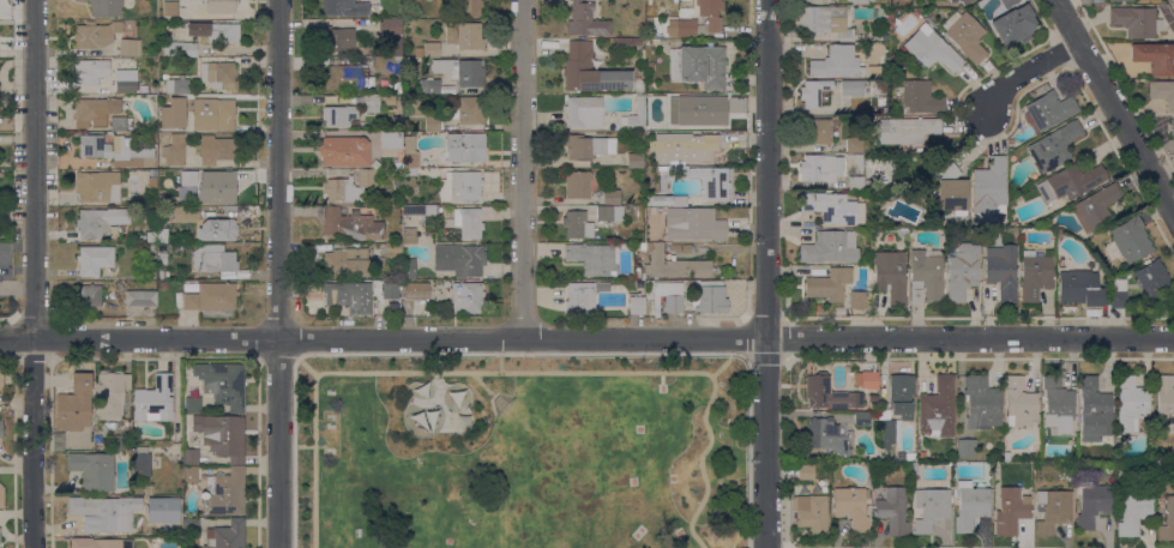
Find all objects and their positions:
building: (1120, 0)
building: (952, 1)
building: (964, 1)
building: (862, 2)
building: (1007, 2)
park: (1170, 5)
building: (219, 6)
building: (106, 7)
building: (469, 7)
building: (169, 8)
building: (343, 8)
building: (710, 13)
building: (585, 20)
road: (1068, 20)
building: (825, 22)
building: (1136, 22)
building: (945, 23)
building: (1013, 25)
building: (662, 28)
building: (686, 28)
building: (215, 31)
building: (392, 31)
building: (465, 36)
building: (967, 36)
building: (107, 37)
building: (337, 40)
building: (622, 42)
building: (637, 42)
building: (180, 49)
building: (931, 49)
building: (432, 50)
building: (396, 52)
building: (1154, 58)
building: (405, 61)
building: (835, 62)
building: (387, 66)
building: (649, 66)
building: (698, 66)
building: (462, 71)
building: (590, 71)
building: (89, 72)
building: (218, 74)
road: (1027, 74)
building: (343, 78)
building: (126, 83)
building: (177, 85)
building: (429, 86)
building: (397, 88)
building: (854, 88)
building: (879, 88)
building: (143, 89)
building: (813, 92)
building: (1162, 92)
building: (917, 97)
building: (389, 100)
building: (371, 103)
building: (468, 110)
building: (582, 110)
building: (95, 112)
building: (1047, 112)
building: (698, 113)
building: (637, 114)
building: (213, 115)
building: (338, 115)
building: (396, 119)
building: (119, 124)
building: (432, 124)
road: (1127, 127)
building: (1172, 127)
building: (813, 131)
building: (904, 131)
building: (389, 140)
building: (1011, 141)
building: (650, 144)
building: (854, 145)
building: (586, 146)
building: (1054, 146)
building: (463, 147)
building: (686, 149)
building: (175, 150)
building: (216, 150)
building: (115, 151)
building: (343, 151)
building: (408, 156)
building: (634, 161)
building: (857, 162)
road: (522, 168)
building: (820, 170)
building: (409, 173)
building: (710, 182)
building: (855, 182)
building: (1070, 182)
building: (188, 183)
building: (867, 185)
building: (98, 186)
building: (350, 186)
building: (460, 186)
building: (577, 186)
building: (989, 187)
building: (951, 191)
building: (215, 193)
building: (612, 197)
building: (666, 200)
building: (832, 207)
building: (1096, 207)
building: (420, 210)
building: (185, 213)
building: (609, 213)
building: (884, 221)
building: (98, 222)
building: (468, 223)
building: (348, 224)
building: (693, 224)
building: (577, 225)
building: (217, 230)
building: (902, 234)
building: (150, 236)
building: (409, 236)
building: (142, 239)
building: (1128, 241)
building: (830, 247)
building: (392, 249)
building: (151, 252)
building: (162, 258)
building: (594, 258)
building: (459, 259)
building: (5, 260)
building: (94, 260)
building: (215, 261)
building: (344, 263)
building: (673, 264)
building: (408, 269)
building: (1001, 270)
building: (962, 271)
road: (32, 273)
road: (277, 273)
road: (765, 273)
building: (1035, 275)
building: (890, 276)
building: (926, 278)
building: (1154, 281)
building: (829, 284)
building: (1079, 288)
building: (416, 290)
building: (390, 291)
building: (90, 295)
building: (349, 296)
building: (468, 297)
building: (583, 297)
building: (667, 297)
building: (710, 297)
building: (140, 299)
building: (212, 300)
building: (857, 300)
building: (1114, 301)
building: (637, 305)
road: (586, 338)
road: (520, 354)
road: (500, 362)
road: (438, 363)
road: (306, 366)
road: (720, 366)
road: (519, 372)
road: (438, 375)
building: (1, 378)
building: (866, 380)
building: (222, 384)
road: (481, 385)
building: (110, 393)
building: (829, 393)
building: (1164, 397)
building: (153, 401)
building: (981, 403)
building: (1019, 403)
building: (192, 404)
building: (1058, 404)
building: (1130, 404)
building: (74, 405)
building: (896, 409)
building: (938, 409)
building: (1094, 410)
building: (861, 418)
building: (1, 429)
building: (222, 435)
building: (826, 436)
building: (120, 442)
road: (303, 446)
building: (965, 447)
park: (520, 452)
building: (813, 452)
building: (921, 454)
building: (1006, 456)
building: (189, 457)
building: (140, 462)
building: (92, 470)
building: (806, 472)
building: (189, 474)
building: (147, 489)
building: (224, 493)
building: (1, 496)
building: (969, 505)
building: (1092, 505)
building: (1133, 505)
building: (851, 507)
building: (931, 508)
building: (1052, 510)
building: (892, 511)
building: (1010, 511)
building: (811, 512)
building: (104, 513)
building: (1167, 520)
building: (189, 526)
building: (225, 536)
building: (100, 543)

